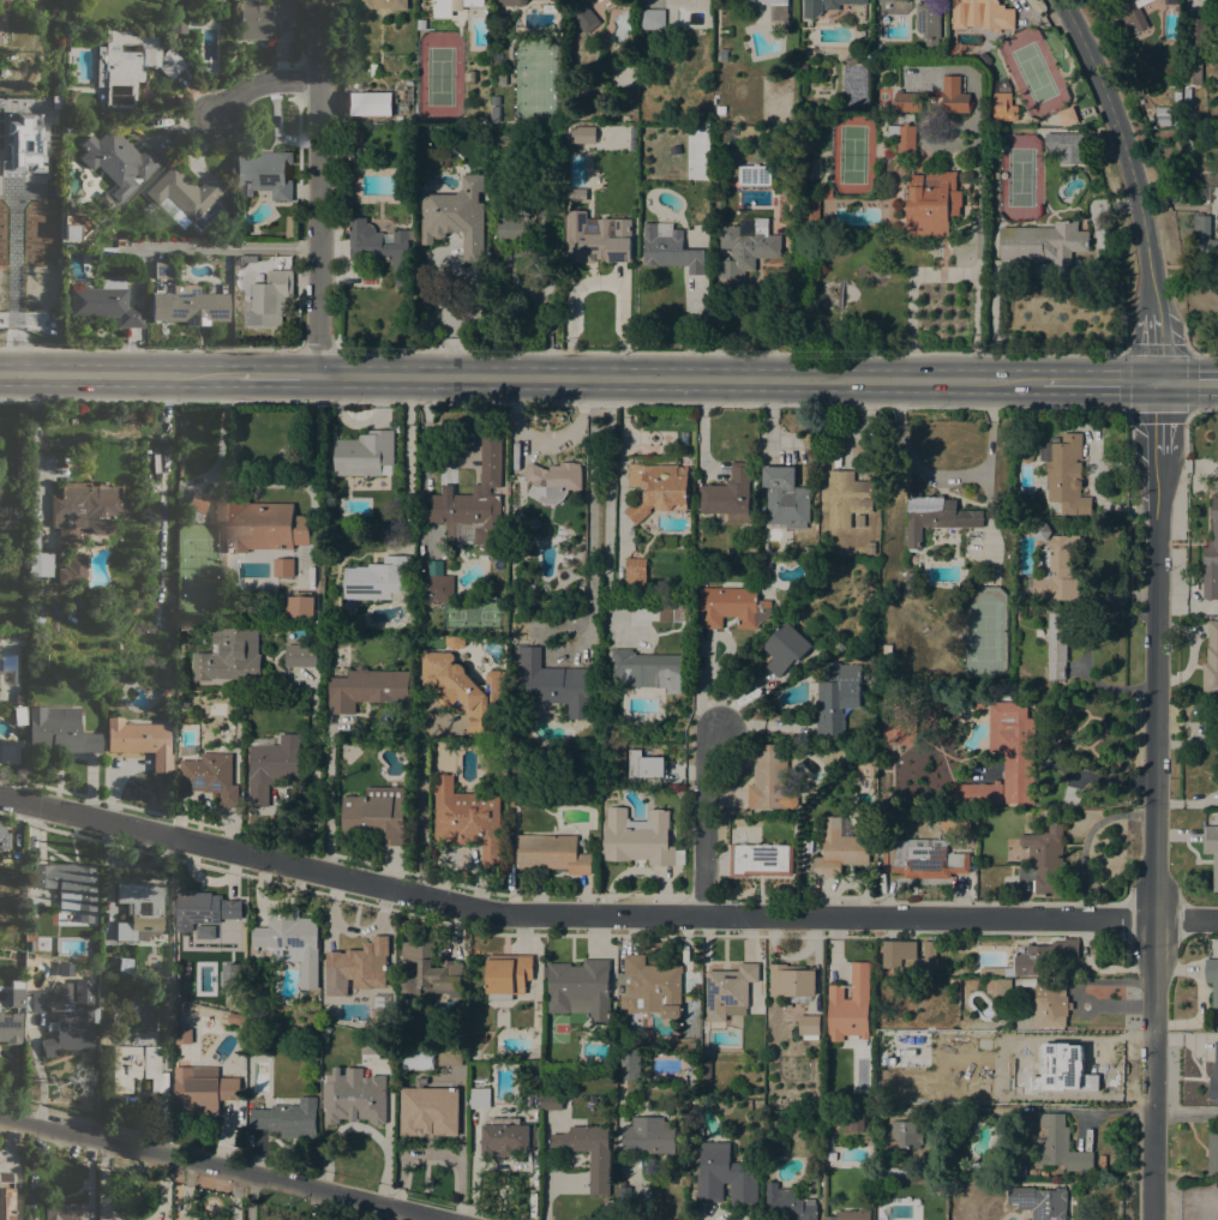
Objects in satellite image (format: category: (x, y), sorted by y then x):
building: (203, 0)
building: (896, 0)
building: (1211, 0)
building: (1170, 1)
building: (511, 2)
building: (384, 4)
building: (451, 6)
building: (824, 6)
building: (779, 13)
building: (1133, 13)
building: (980, 14)
building: (262, 17)
building: (584, 18)
building: (652, 19)
building: (178, 20)
building: (928, 22)
building: (1198, 31)
building: (91, 37)
building: (70, 42)
building: (724, 54)
building: (984, 58)
building: (851, 60)
building: (130, 65)
building: (803, 67)
building: (373, 70)
building: (66, 72)
building: (1192, 72)
building: (469, 77)
road: (259, 85)
building: (714, 91)
building: (954, 95)
building: (1187, 95)
building: (1177, 96)
building: (907, 101)
building: (368, 103)
building: (403, 107)
building: (1003, 107)
building: (720, 109)
building: (496, 113)
building: (1163, 115)
building: (1067, 116)
building: (582, 134)
building: (700, 136)
building: (22, 139)
building: (901, 139)
building: (1184, 139)
building: (1052, 143)
building: (1069, 144)
road: (1124, 149)
building: (348, 157)
building: (118, 160)
building: (785, 167)
building: (264, 173)
building: (754, 175)
building: (1169, 186)
road: (319, 187)
building: (787, 191)
building: (826, 192)
building: (184, 194)
building: (576, 194)
building: (931, 203)
building: (811, 210)
building: (457, 216)
building: (522, 224)
building: (74, 226)
building: (290, 227)
road: (977, 228)
building: (596, 238)
building: (1205, 238)
building: (1044, 244)
road: (220, 247)
building: (746, 247)
building: (670, 248)
building: (382, 250)
building: (227, 263)
building: (163, 269)
building: (817, 270)
road: (599, 280)
road: (19, 281)
building: (268, 298)
building: (104, 302)
building: (190, 307)
road: (990, 319)
road: (1156, 344)
road: (1183, 351)
road: (118, 372)
road: (276, 374)
road: (678, 377)
road: (1099, 380)
traffic signals: (1158, 381)
road: (1188, 381)
road: (1158, 419)
road: (32, 443)
building: (365, 455)
road: (622, 455)
building: (1026, 456)
building: (1064, 474)
building: (552, 481)
building: (656, 488)
building: (728, 492)
building: (847, 497)
building: (785, 498)
building: (473, 503)
building: (194, 506)
road: (607, 507)
building: (84, 510)
building: (935, 516)
building: (859, 521)
building: (260, 524)
building: (870, 547)
building: (446, 554)
building: (37, 557)
building: (1211, 557)
building: (1056, 565)
building: (283, 567)
building: (72, 570)
building: (635, 575)
building: (911, 576)
building: (378, 578)
building: (229, 585)
building: (270, 585)
building: (437, 588)
building: (300, 605)
building: (731, 606)
building: (350, 620)
building: (6, 624)
building: (1, 633)
building: (22, 635)
building: (455, 642)
building: (1058, 642)
building: (785, 648)
building: (886, 648)
building: (229, 656)
building: (301, 656)
building: (1211, 662)
building: (646, 669)
building: (554, 683)
building: (365, 687)
building: (464, 691)
building: (838, 696)
building: (20, 697)
building: (979, 702)
building: (902, 725)
building: (59, 731)
building: (140, 740)
building: (1014, 749)
building: (271, 764)
building: (646, 764)
building: (863, 770)
building: (210, 776)
building: (769, 777)
building: (976, 793)
building: (517, 798)
building: (892, 800)
road: (328, 803)
road: (419, 806)
building: (377, 813)
building: (468, 818)
building: (794, 819)
road: (709, 821)
building: (955, 821)
road: (1153, 837)
building: (4, 839)
building: (638, 839)
building: (839, 849)
building: (1211, 849)
building: (553, 853)
building: (758, 858)
building: (922, 858)
building: (1046, 858)
building: (68, 884)
building: (31, 908)
building: (205, 908)
building: (140, 909)
road: (601, 916)
building: (217, 931)
building: (292, 943)
building: (29, 944)
building: (1044, 956)
building: (911, 957)
building: (361, 961)
building: (124, 964)
building: (65, 968)
building: (1000, 970)
building: (430, 972)
building: (508, 975)
building: (229, 978)
building: (1212, 978)
building: (791, 982)
building: (649, 987)
building: (695, 987)
building: (1002, 987)
building: (581, 988)
building: (728, 991)
building: (36, 1002)
building: (850, 1005)
building: (1050, 1008)
building: (316, 1016)
building: (954, 1016)
building: (536, 1021)
building: (73, 1022)
building: (809, 1024)
building: (10, 1027)
building: (661, 1042)
building: (377, 1046)
building: (472, 1054)
building: (450, 1057)
building: (416, 1059)
building: (629, 1064)
building: (137, 1068)
building: (703, 1068)
building: (1214, 1075)
building: (551, 1086)
building: (202, 1087)
building: (354, 1096)
building: (428, 1096)
building: (479, 1098)
building: (551, 1101)
building: (539, 1102)
road: (1184, 1110)
building: (832, 1113)
building: (288, 1118)
building: (853, 1118)
building: (776, 1126)
building: (683, 1130)
building: (904, 1132)
building: (648, 1136)
building: (508, 1137)
building: (1060, 1146)
building: (1213, 1152)
road: (217, 1167)
building: (980, 1168)
building: (1019, 1171)
building: (898, 1172)
building: (599, 1173)
building: (1033, 1173)
building: (1043, 1173)
building: (724, 1176)
building: (624, 1194)
building: (6, 1196)
building: (1040, 1202)
building: (786, 1204)
building: (608, 1209)
building: (54, 1210)
building: (851, 1215)

